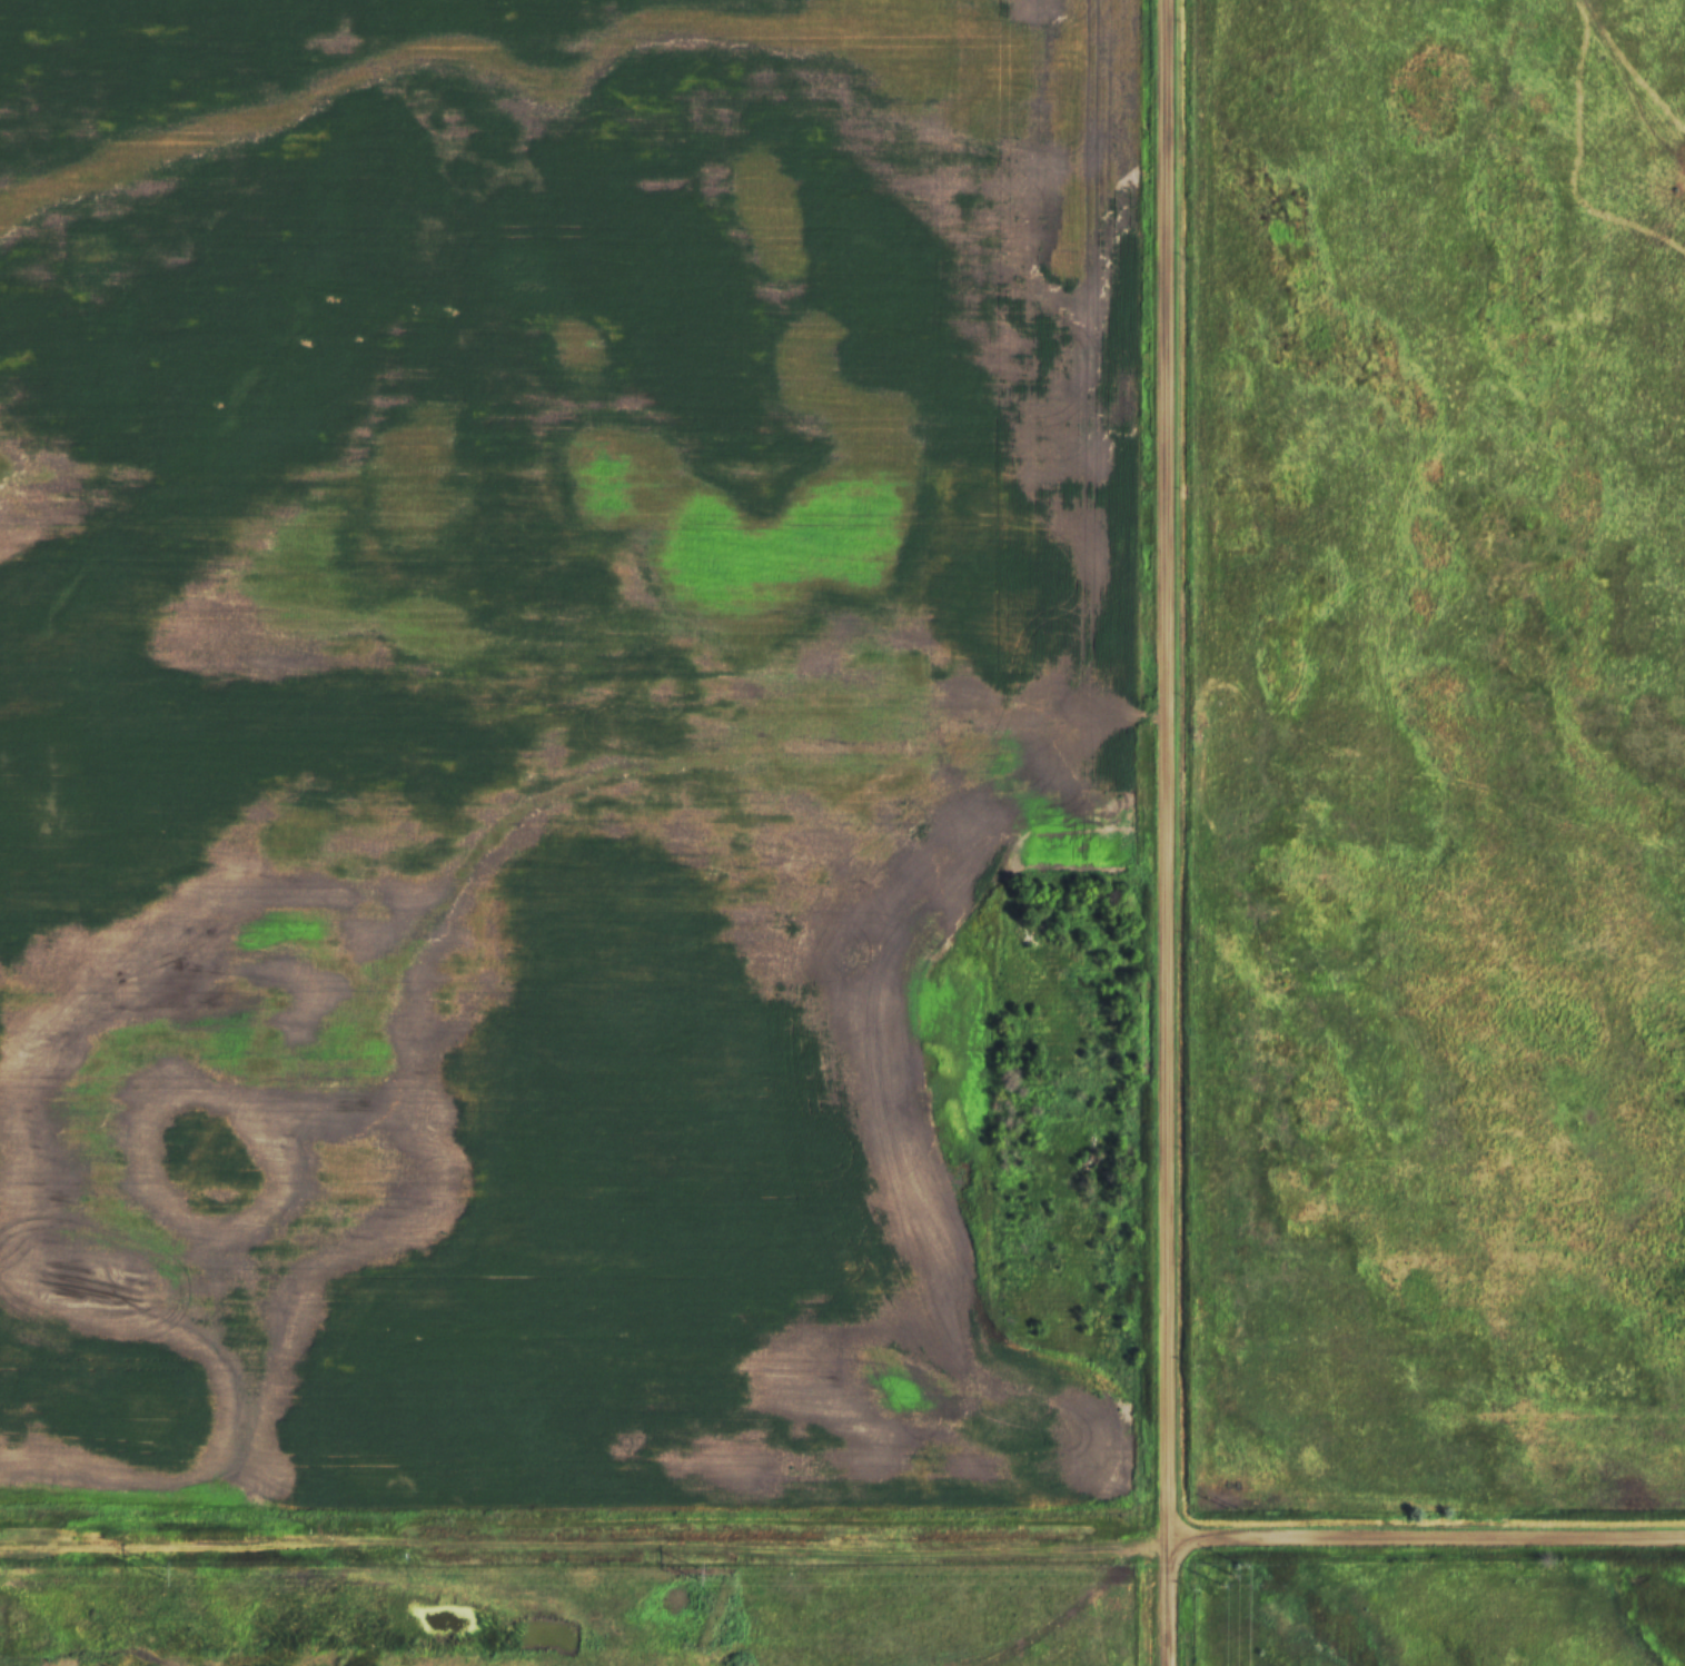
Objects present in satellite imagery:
road: (1166, 833)
road: (1426, 1540)
road: (584, 1547)
power tower: (162, 1571)
power tower: (695, 1573)
power tower: (1231, 1575)

